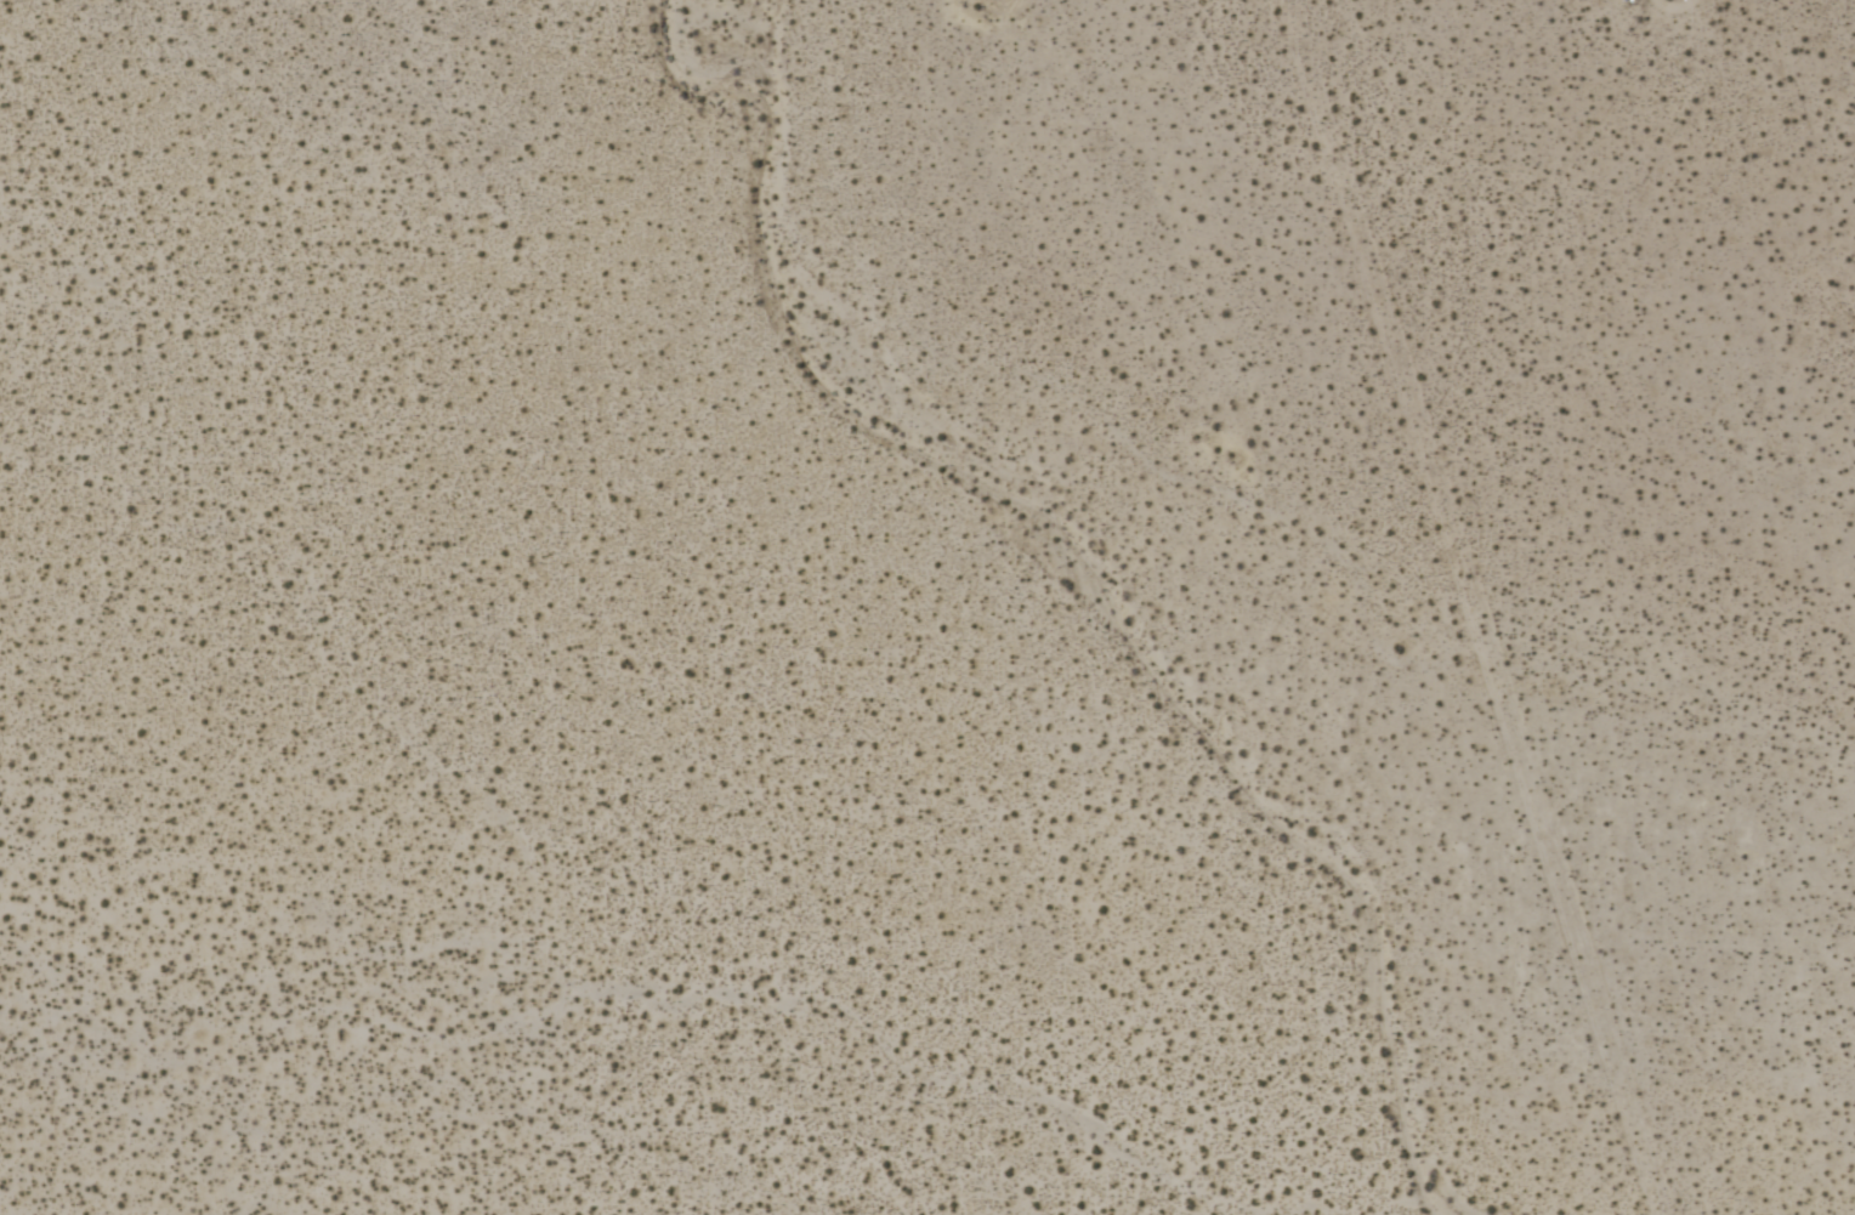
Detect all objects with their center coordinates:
road: (1464, 603)

